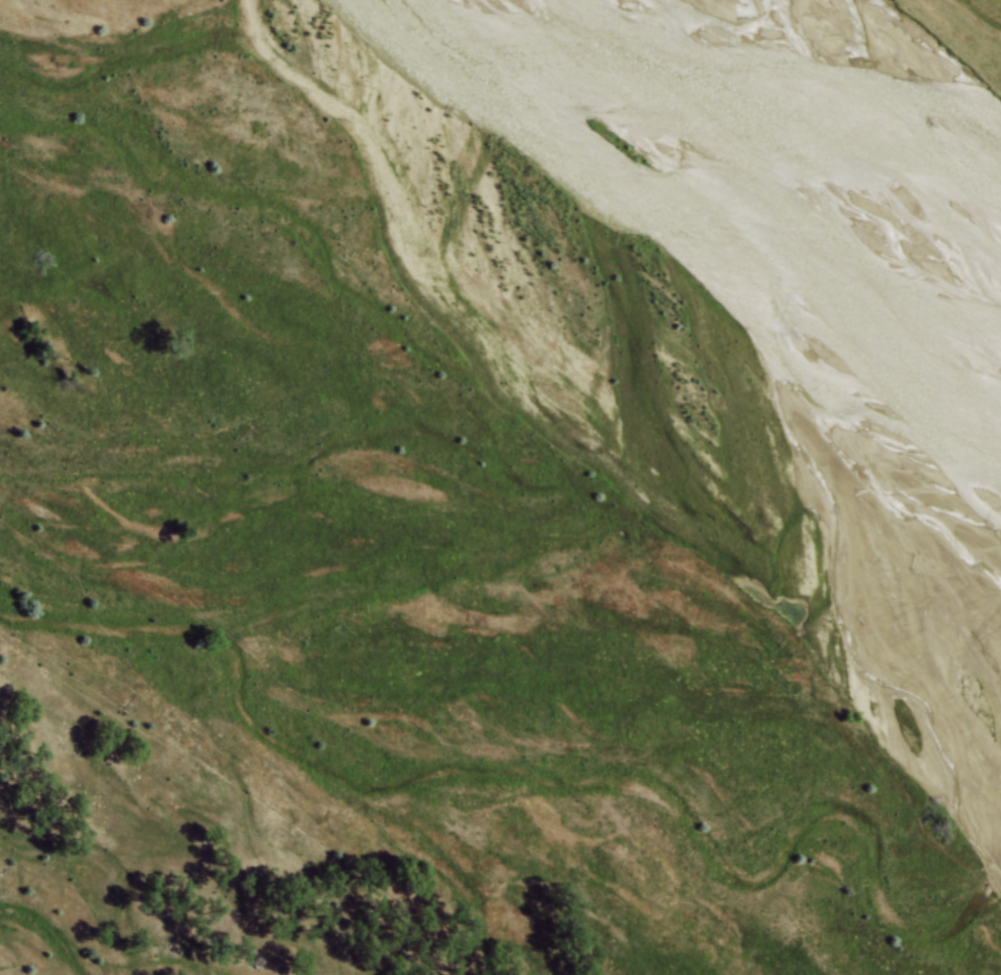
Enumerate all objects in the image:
river: (880, 138)

